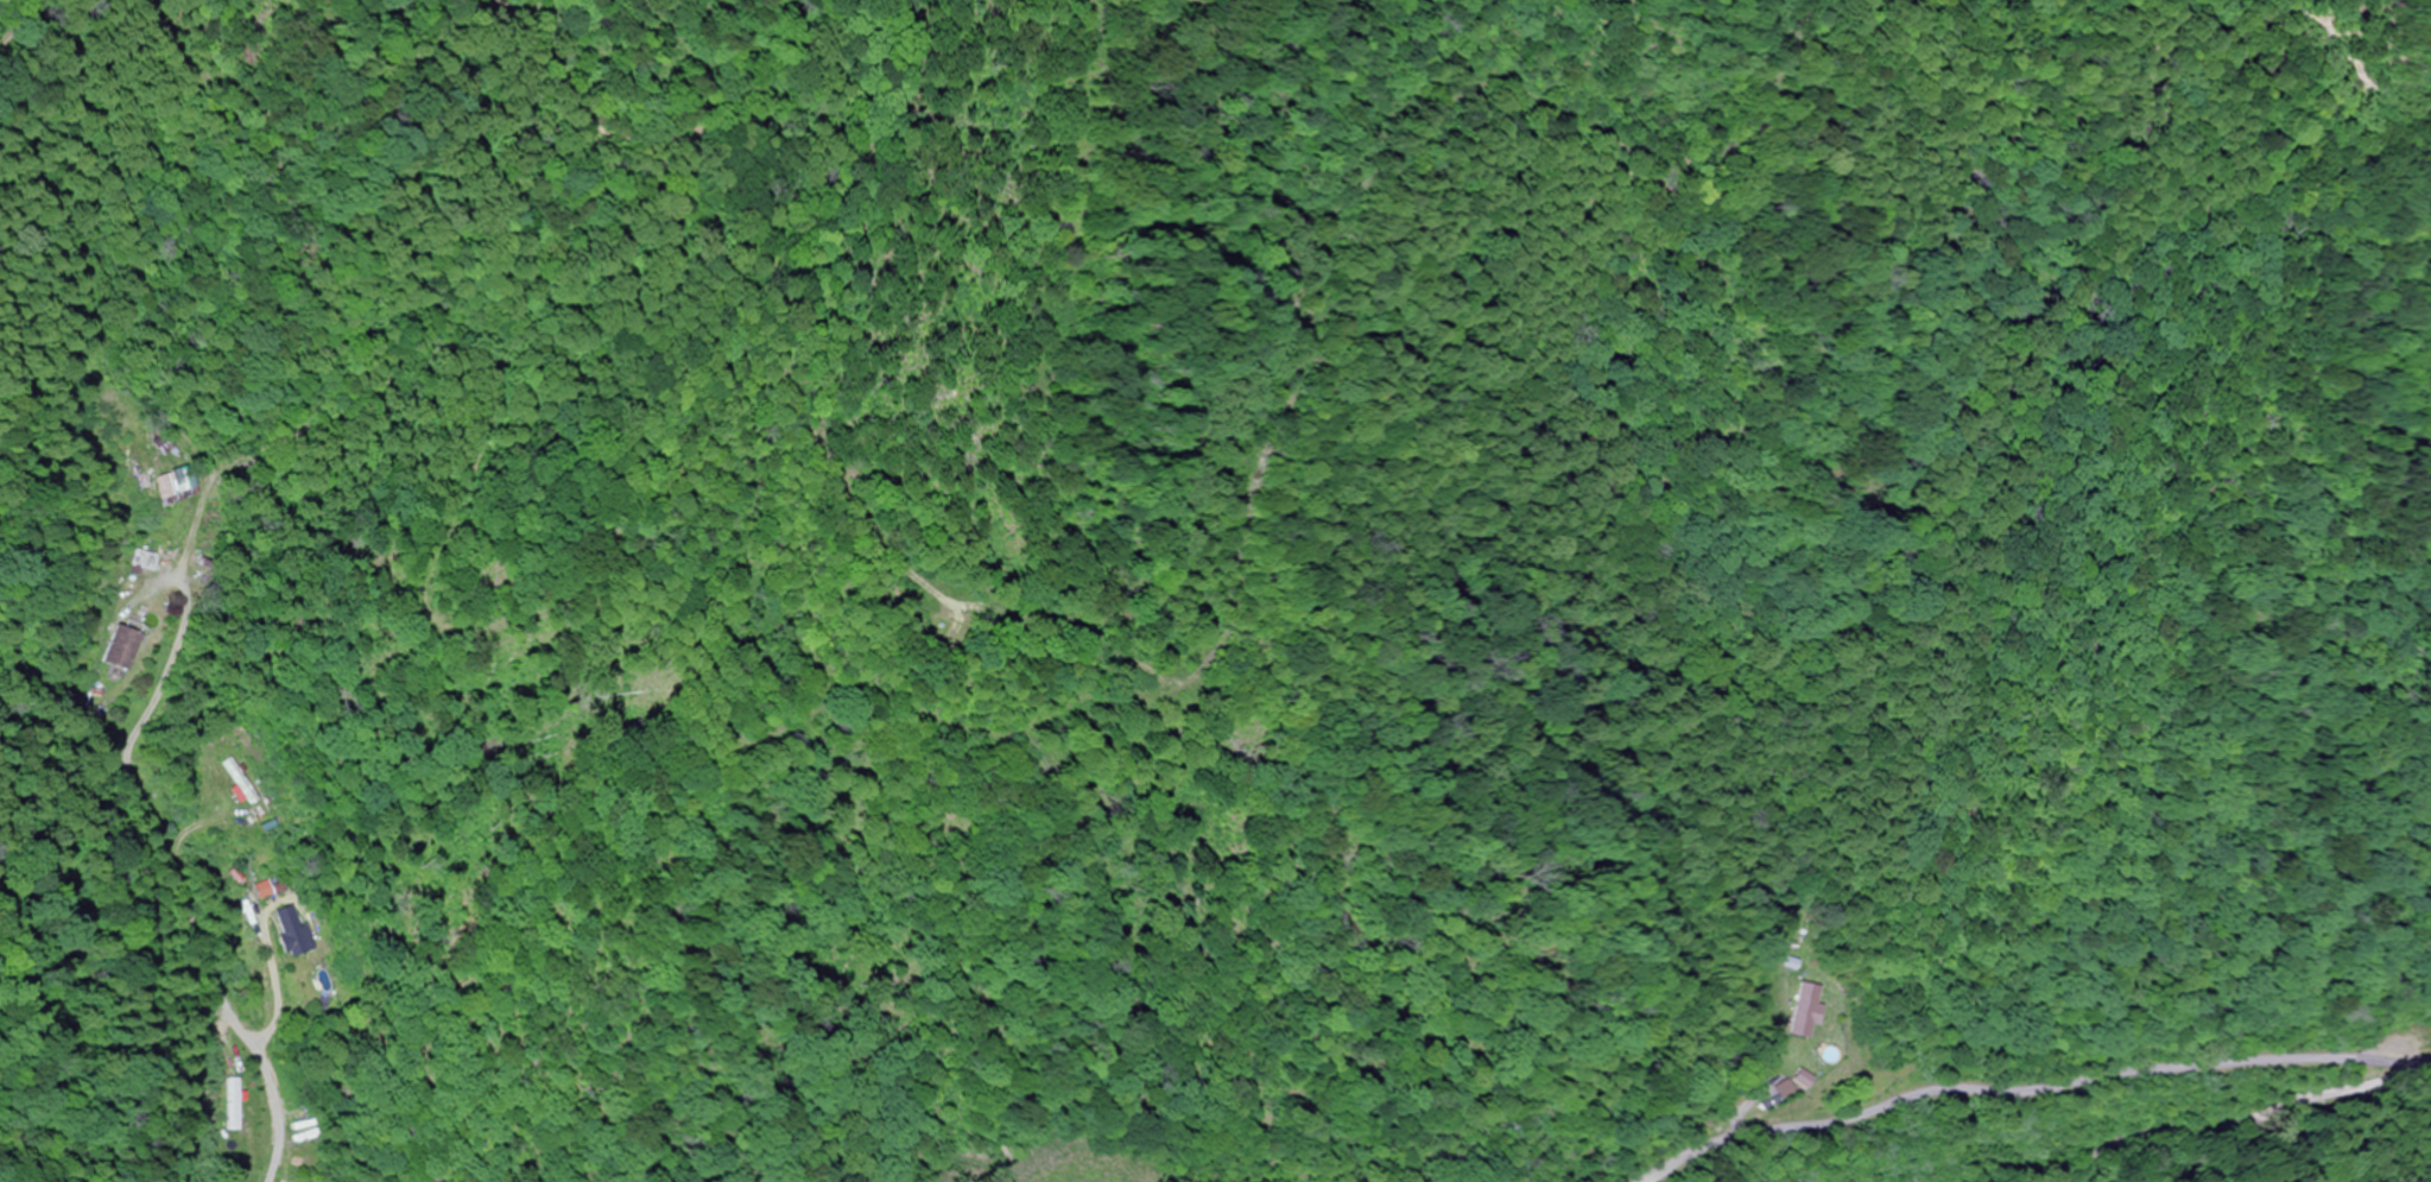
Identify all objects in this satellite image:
road: (25, 37)
road: (2410, 102)
road: (1240, 621)
building: (109, 650)
building: (236, 783)
road: (169, 880)
building: (292, 933)
building: (1799, 1012)
road: (2430, 1067)
road: (2027, 1091)
building: (227, 1105)
road: (2240, 1126)

